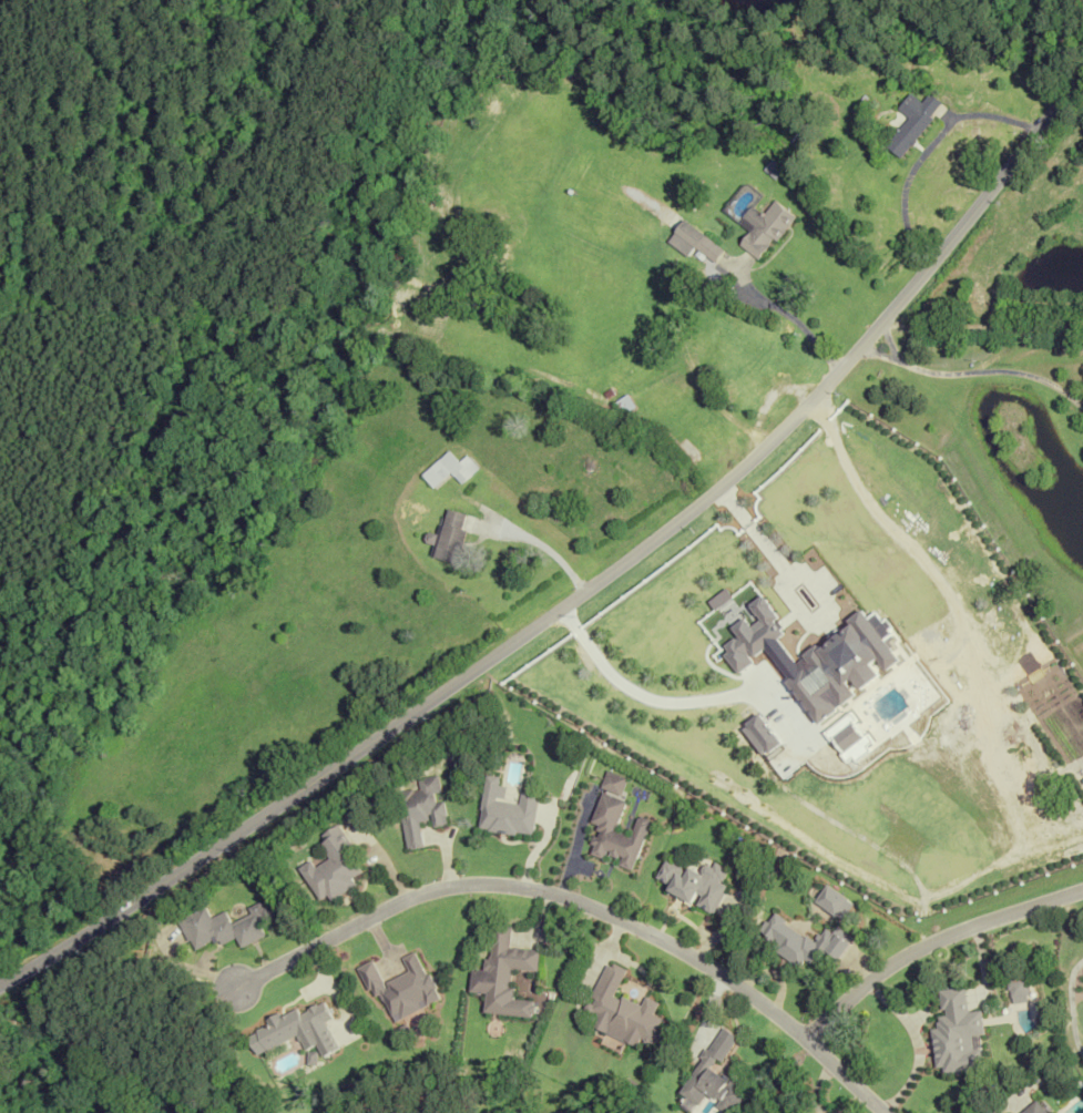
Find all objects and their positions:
building: (911, 122)
building: (788, 132)
building: (762, 228)
building: (692, 241)
road: (788, 316)
road: (889, 358)
road: (989, 374)
building: (623, 404)
building: (449, 469)
road: (837, 476)
building: (450, 537)
road: (541, 548)
building: (854, 571)
road: (590, 585)
building: (420, 809)
building: (505, 809)
building: (614, 825)
building: (331, 866)
building: (693, 882)
road: (579, 903)
building: (224, 926)
building: (801, 941)
road: (930, 942)
building: (502, 974)
building: (398, 986)
building: (1016, 988)
building: (621, 1011)
building: (296, 1031)
building: (956, 1034)
building: (714, 1075)
building: (1034, 1109)

